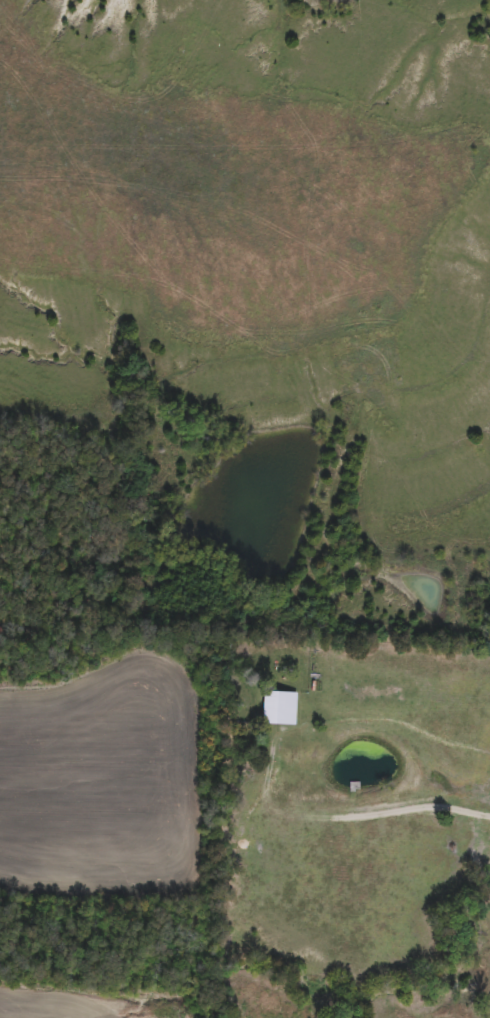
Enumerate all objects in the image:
building: (278, 709)

